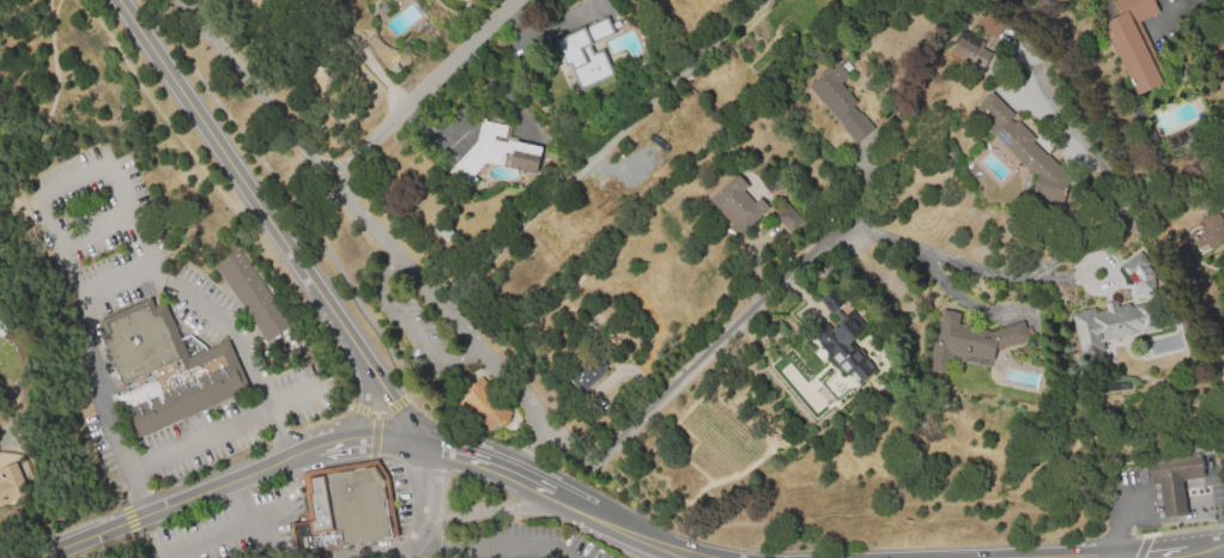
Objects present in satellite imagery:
building: (1046, 2)
road: (1183, 11)
building: (993, 28)
building: (1133, 43)
building: (963, 47)
building: (588, 50)
road: (422, 90)
building: (837, 103)
building: (1183, 138)
building: (1024, 146)
building: (495, 153)
road: (598, 153)
road: (1105, 174)
building: (616, 176)
building: (737, 205)
road: (360, 214)
building: (788, 219)
road: (84, 223)
road: (277, 224)
building: (1207, 230)
road: (878, 232)
road: (140, 237)
parking lot: (127, 245)
road: (969, 263)
road: (154, 266)
road: (55, 273)
building: (1141, 275)
road: (1058, 278)
building: (252, 297)
road: (961, 297)
building: (828, 304)
road: (408, 325)
building: (5, 330)
building: (1131, 332)
building: (976, 339)
road: (714, 348)
building: (844, 354)
building: (163, 360)
road: (259, 372)
building: (586, 372)
road: (366, 374)
road: (400, 400)
building: (485, 402)
road: (388, 407)
road: (359, 408)
road: (375, 411)
building: (721, 420)
road: (220, 427)
parking lot: (224, 429)
building: (711, 432)
road: (374, 433)
road: (337, 438)
road: (360, 442)
road: (287, 443)
road: (568, 449)
road: (531, 450)
road: (473, 460)
building: (1174, 480)
building: (10, 483)
road: (430, 490)
road: (551, 493)
parking lot: (399, 496)
road: (144, 498)
road: (165, 509)
road: (501, 509)
building: (343, 511)
road: (1167, 520)
parking lot: (231, 526)
road: (218, 529)
road: (1170, 529)
road: (642, 536)
road: (413, 538)
road: (1141, 546)
road: (490, 547)
road: (1223, 547)
road: (1208, 550)
road: (407, 552)
road: (1189, 553)
road: (301, 554)
road: (1199, 554)
road: (1159, 557)

